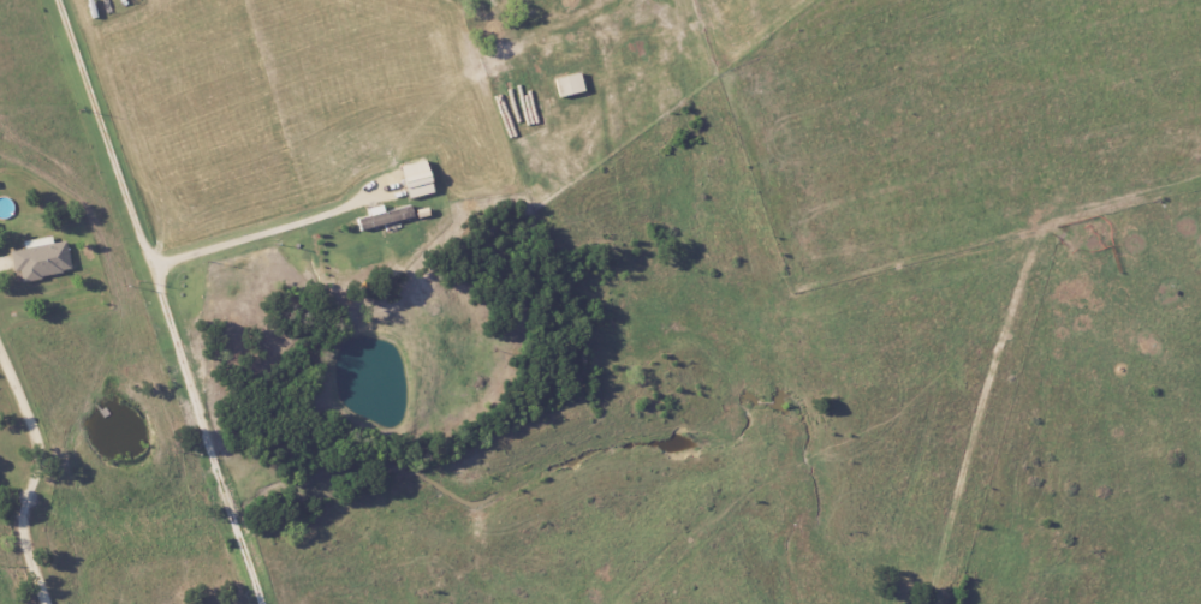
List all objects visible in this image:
building: (567, 84)
building: (415, 179)
road: (266, 232)
building: (40, 258)
road: (162, 300)
road: (35, 473)

